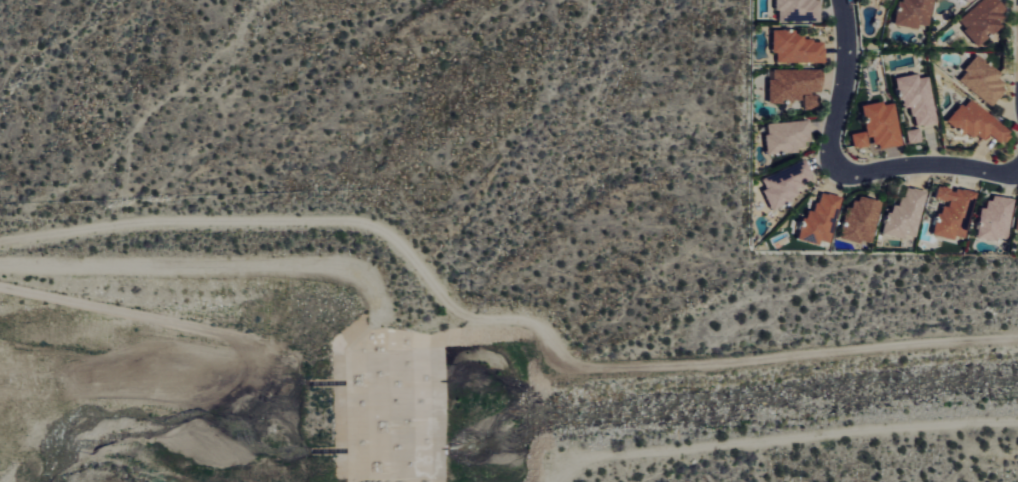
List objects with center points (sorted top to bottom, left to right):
building: (887, 0)
building: (967, 0)
building: (796, 10)
building: (911, 12)
building: (981, 18)
building: (793, 47)
building: (980, 79)
road: (840, 84)
building: (793, 86)
building: (914, 95)
building: (975, 122)
building: (880, 123)
building: (783, 135)
building: (910, 135)
road: (926, 165)
building: (784, 184)
building: (952, 212)
building: (903, 215)
road: (247, 219)
building: (817, 219)
building: (858, 219)
building: (993, 219)
river: (775, 401)

